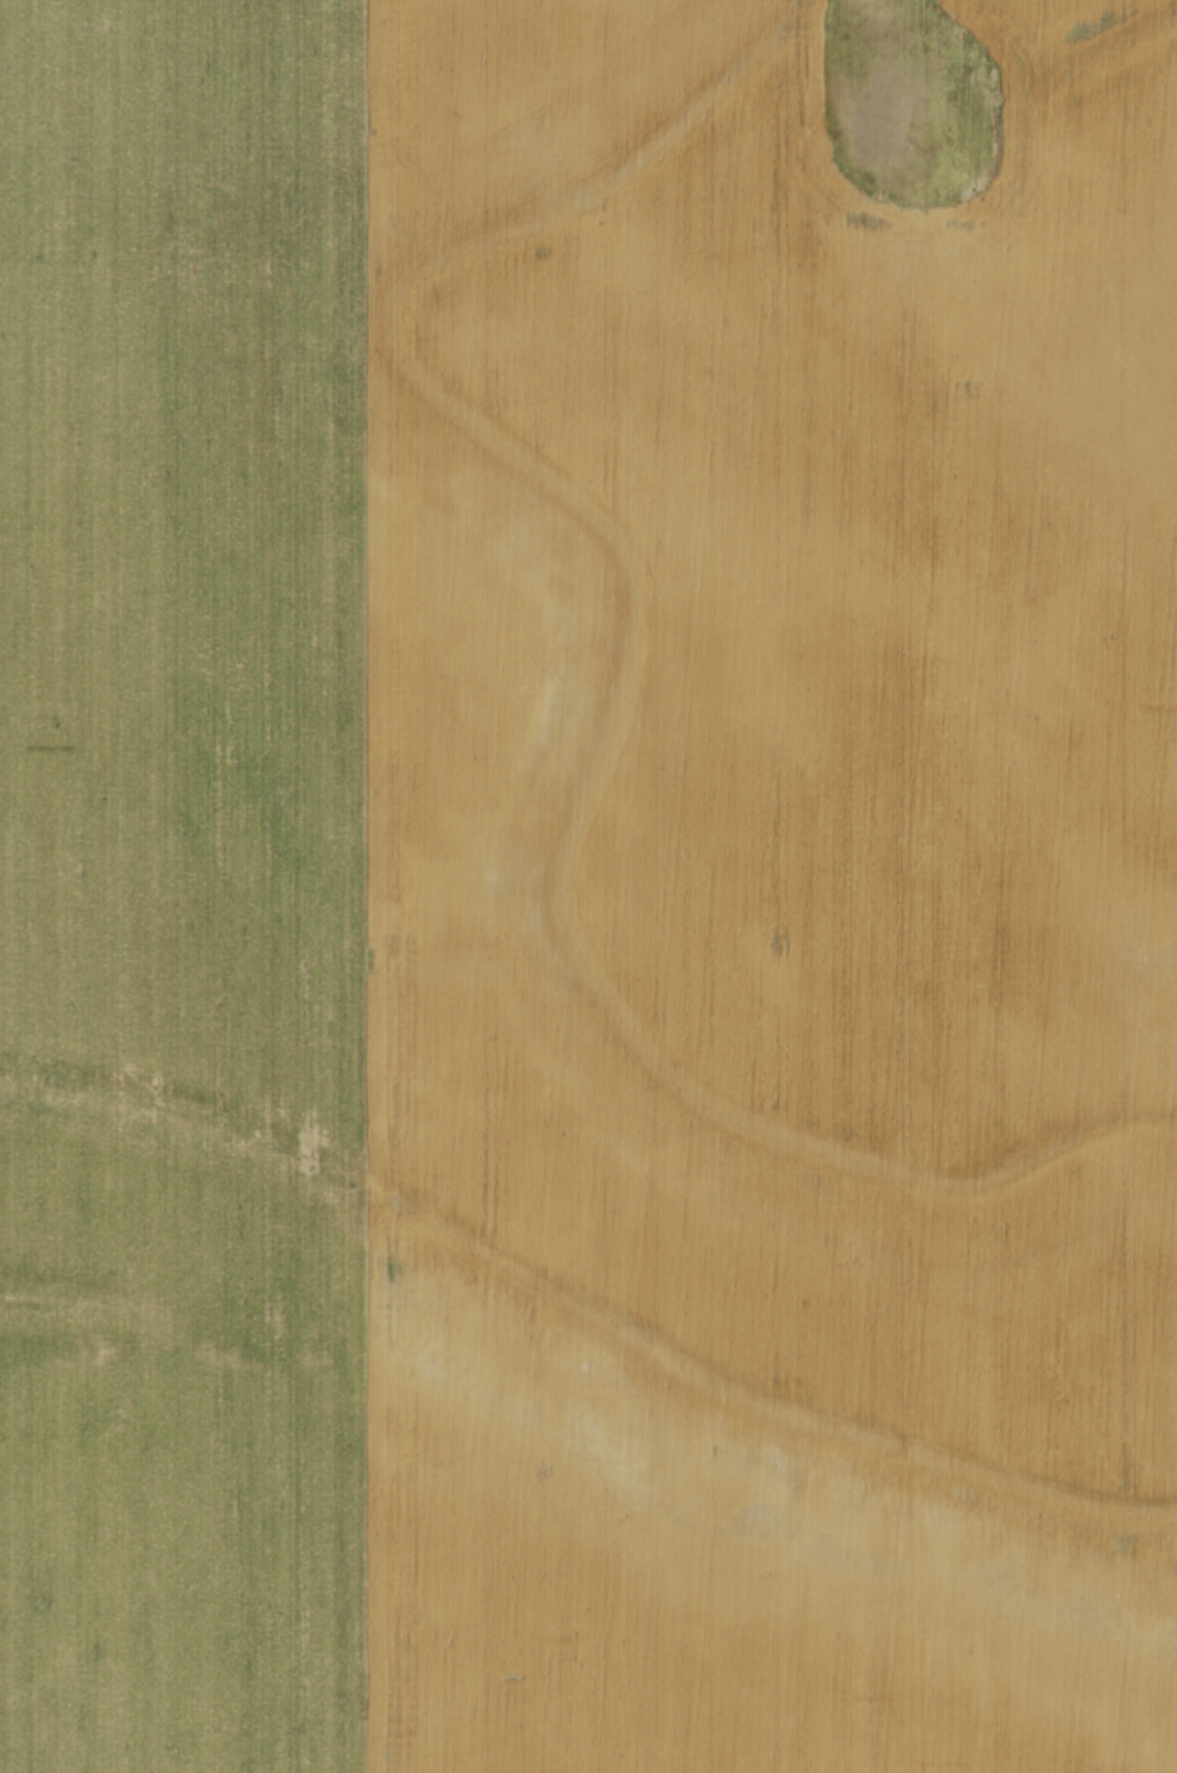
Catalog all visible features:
crop: (588, 886)

